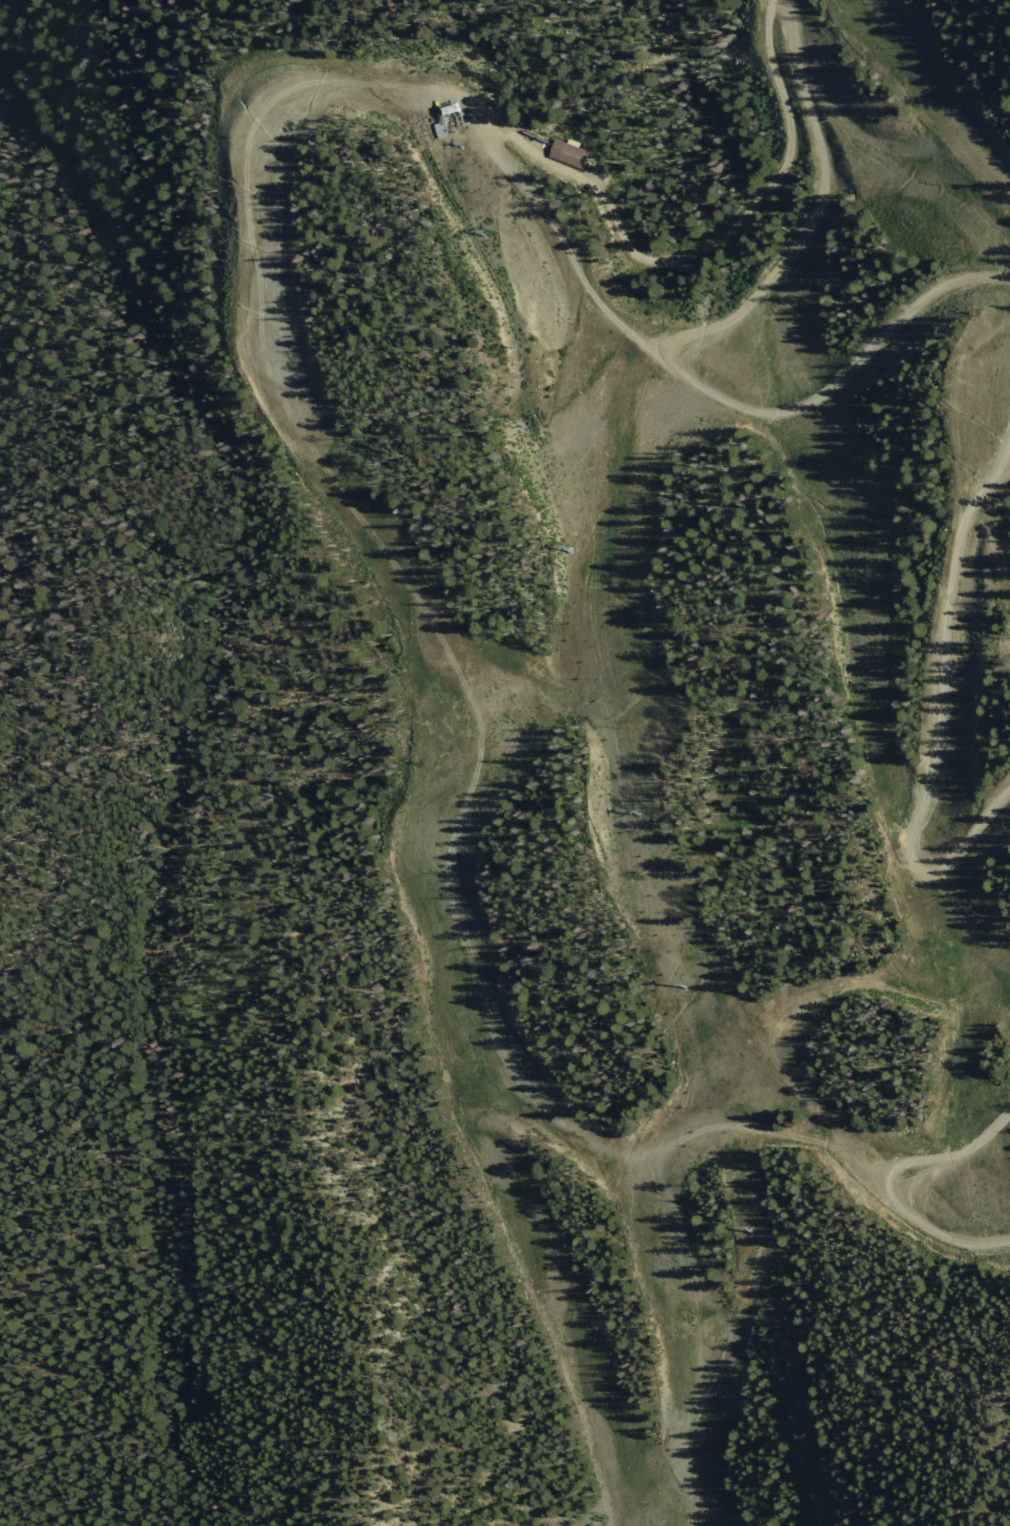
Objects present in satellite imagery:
road: (773, 21)
building: (440, 129)
aerialway pylon: (452, 147)
building: (569, 152)
aerialway pylon: (476, 237)
road: (702, 250)
road: (688, 332)
aerialway pylon: (506, 348)
road: (834, 387)
road: (996, 457)
road: (996, 484)
aerialway pylon: (560, 550)
road: (455, 666)
road: (939, 736)
ski resort: (514, 792)
aerialway pylon: (631, 814)
aerialway pylon: (677, 986)
road: (211, 992)
road: (803, 994)
road: (886, 1178)
aerialway pylon: (742, 1228)
aerialway pylon: (798, 1439)

